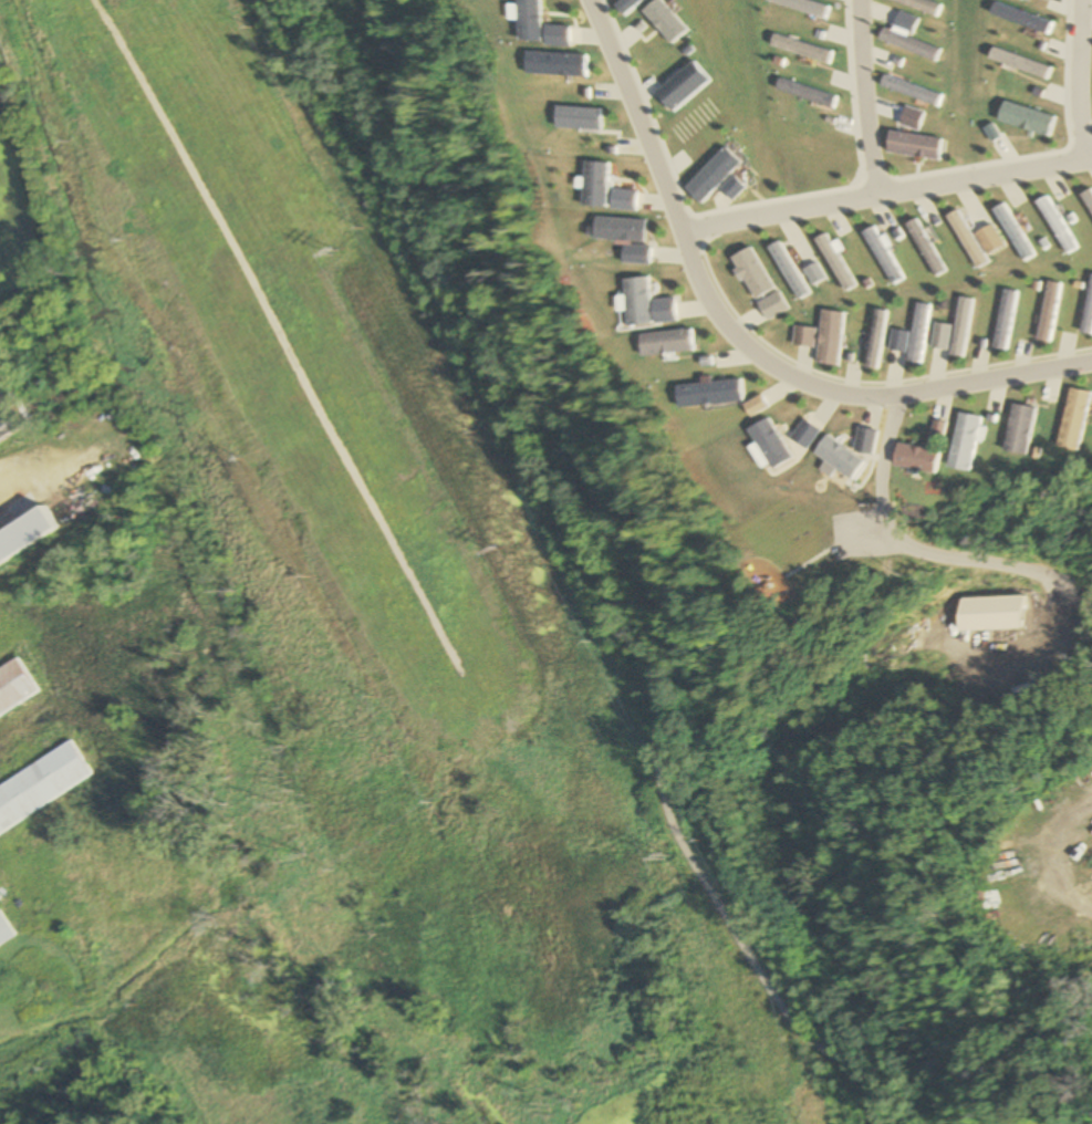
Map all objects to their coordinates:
road: (1086, 80)
road: (867, 98)
road: (883, 195)
road: (732, 347)
building: (10, 416)
building: (27, 539)
road: (903, 542)
road: (593, 573)
building: (15, 689)
building: (42, 787)
building: (4, 932)

